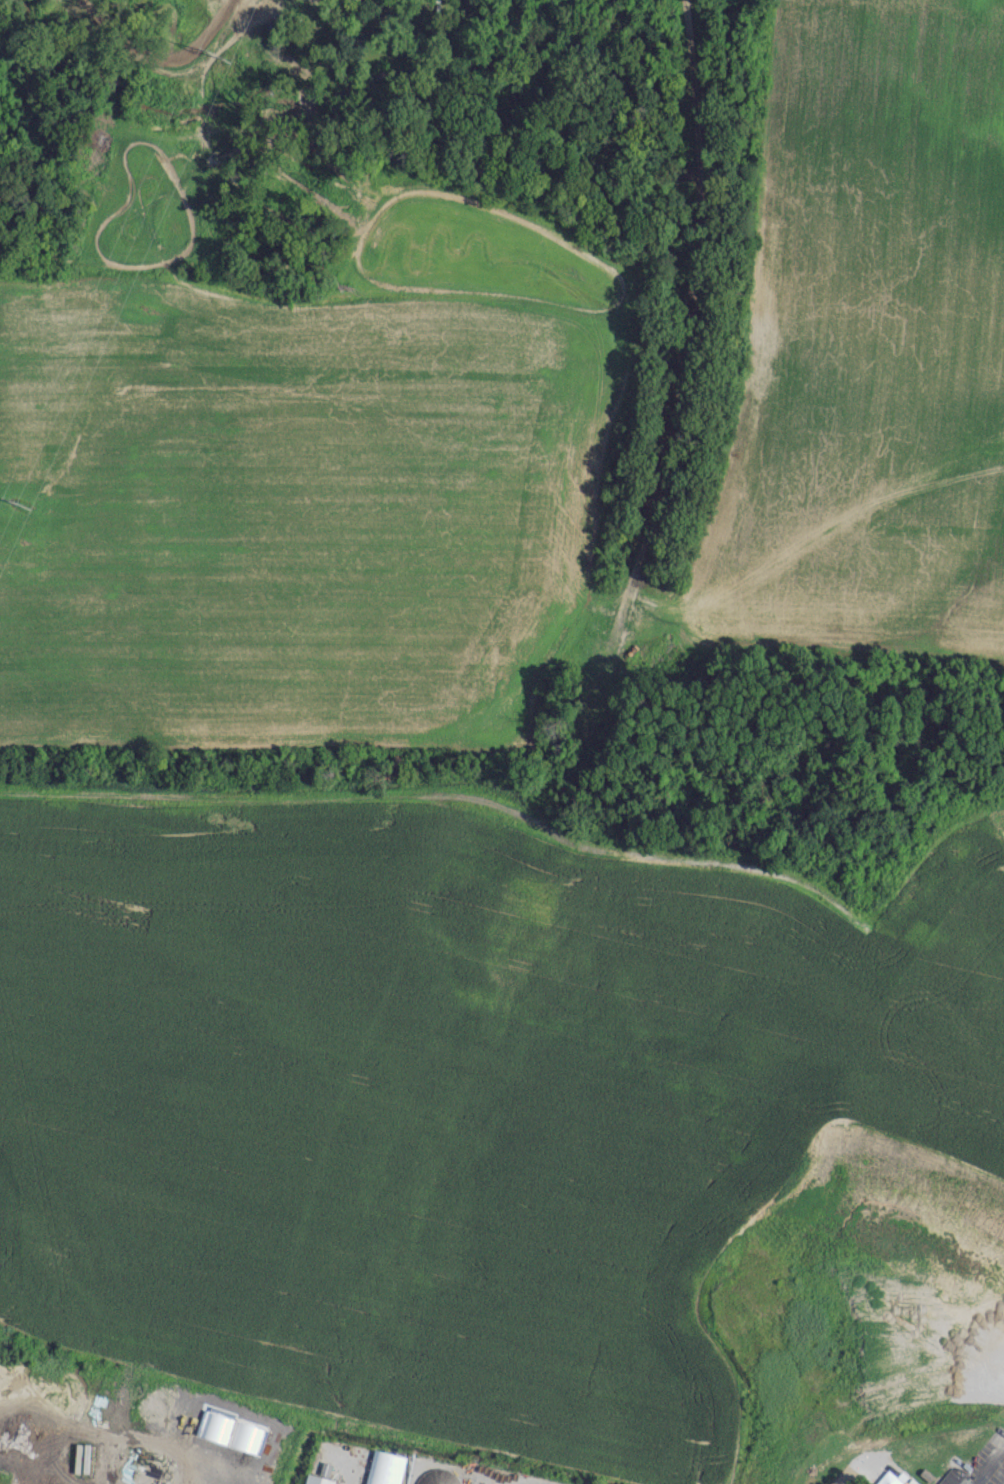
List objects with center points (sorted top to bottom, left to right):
power tower: (213, 50)
power tower: (17, 495)
road: (990, 1462)
building: (385, 1468)
building: (437, 1476)
building: (953, 1477)
building: (317, 1479)
building: (904, 1482)
road: (520, 1483)

